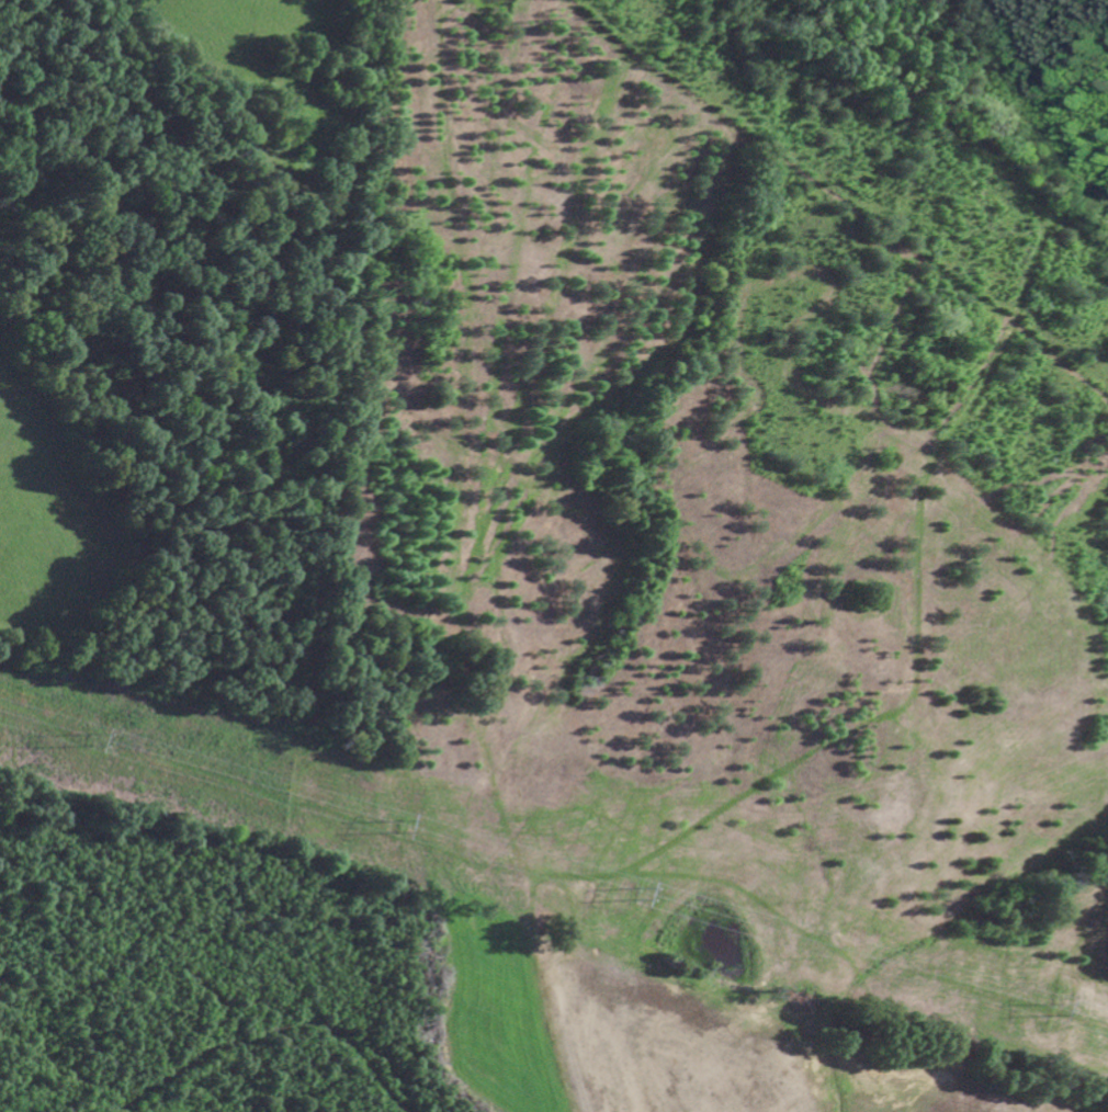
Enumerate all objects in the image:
power tower: (98, 745)
power tower: (404, 831)
power tower: (642, 898)
power tower: (1051, 1013)

